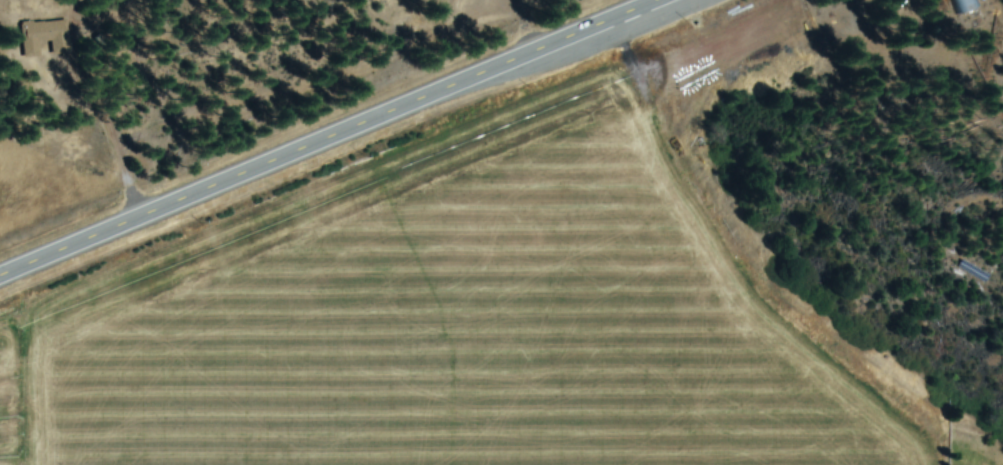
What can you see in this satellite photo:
road: (333, 141)

